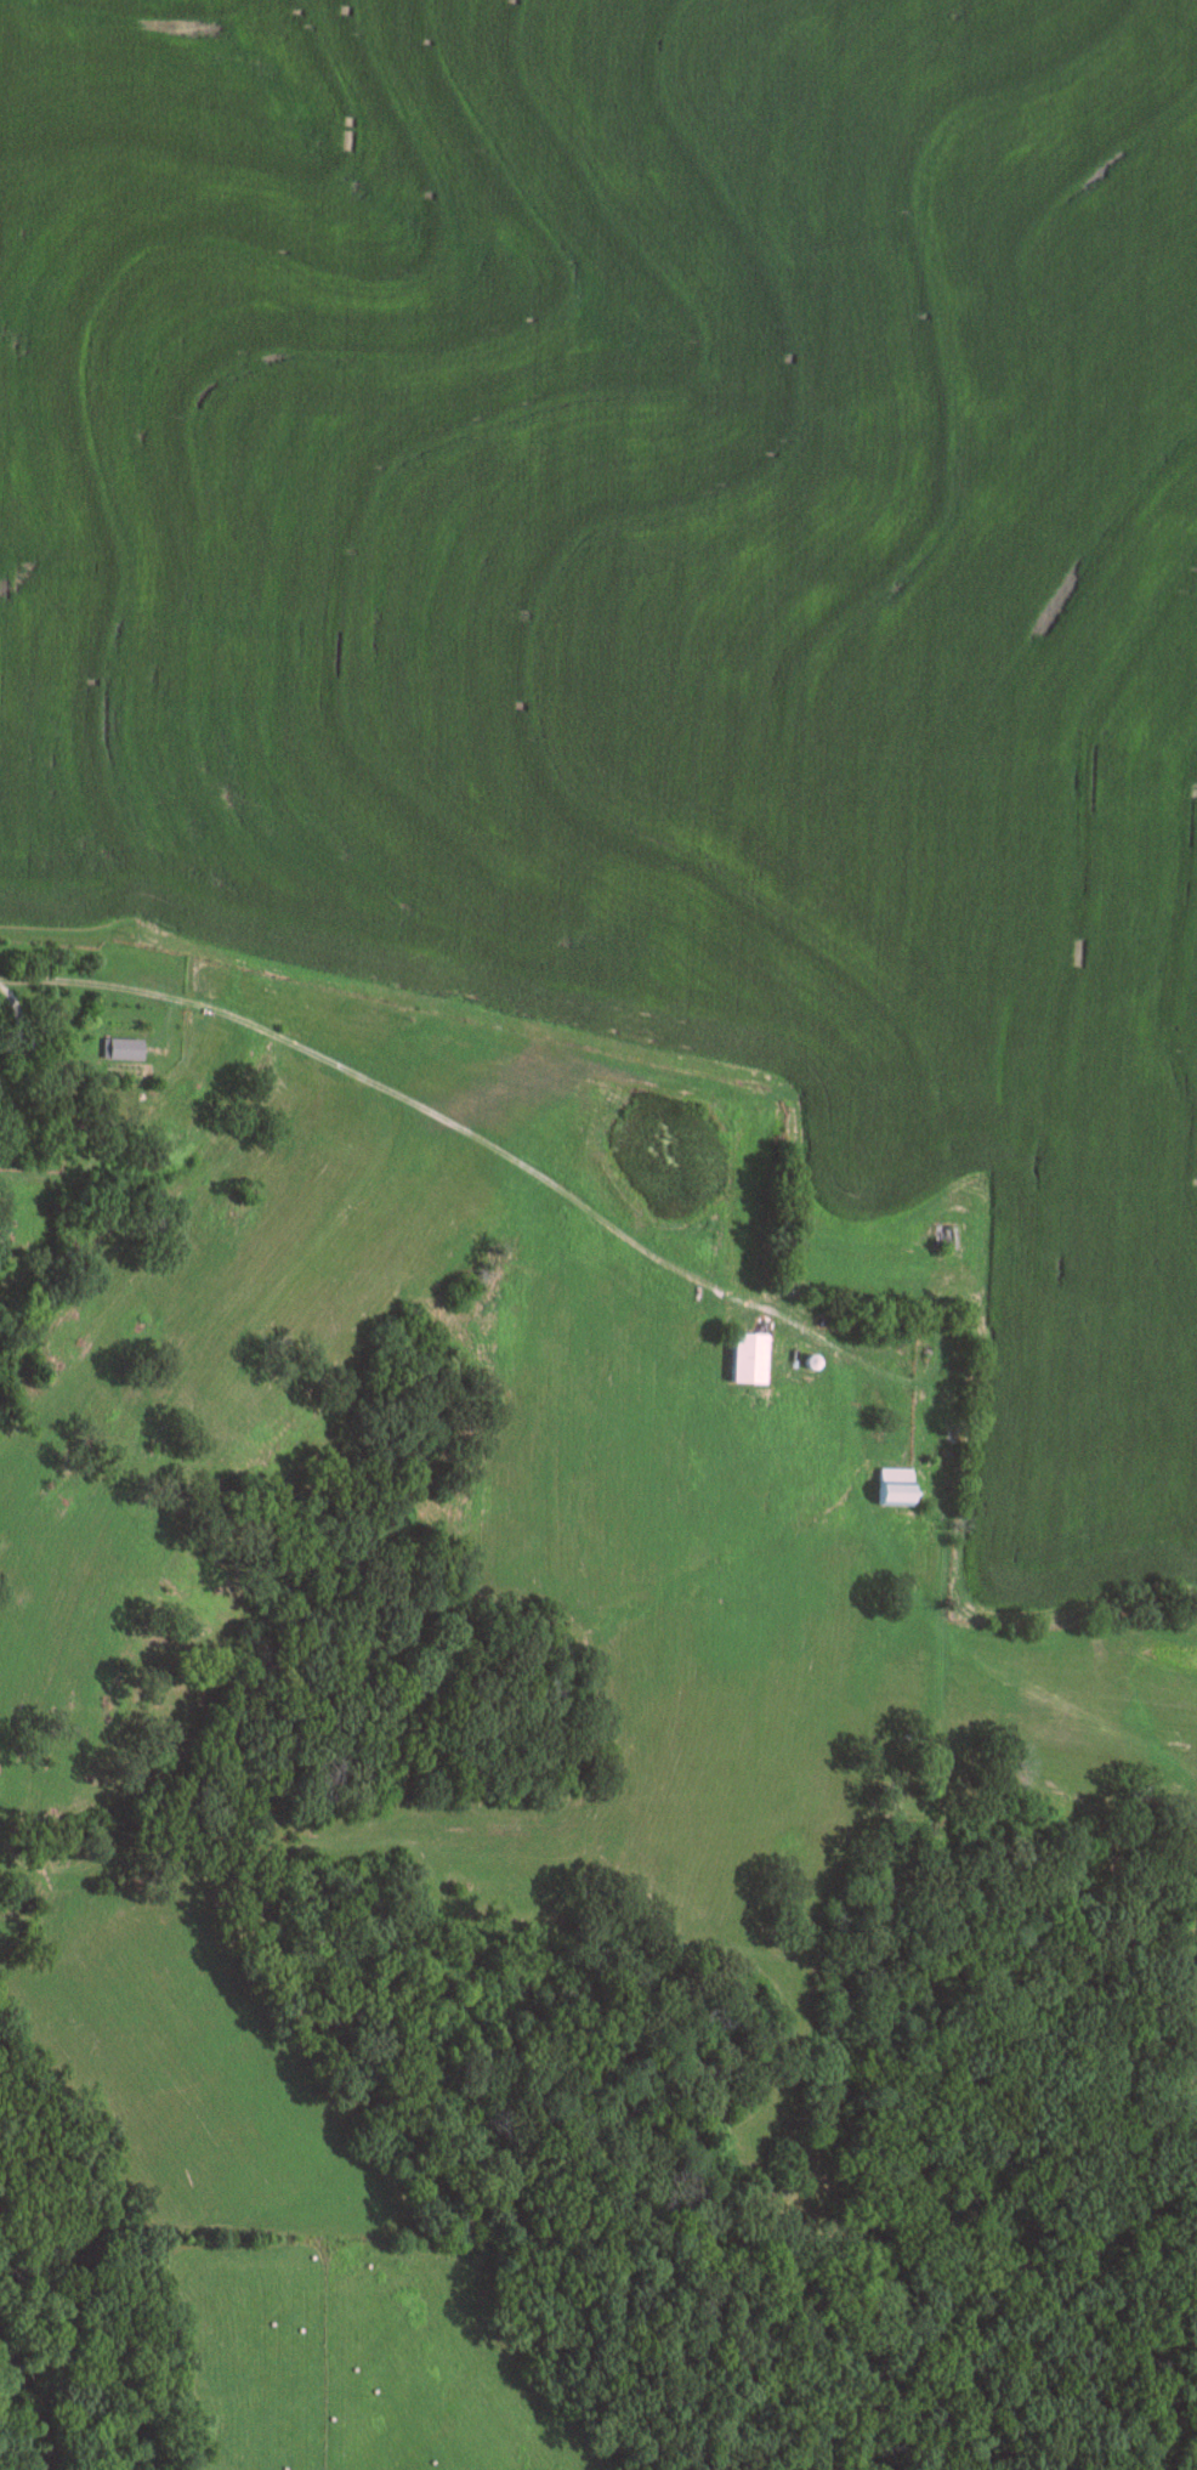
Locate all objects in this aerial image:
building: (123, 1046)
road: (507, 1155)
building: (943, 1233)
building: (749, 1355)
building: (897, 1484)

